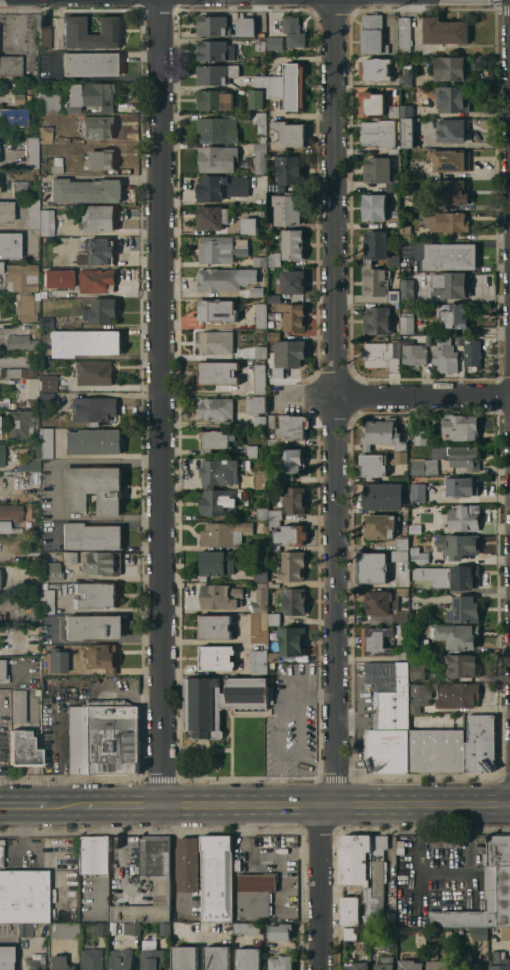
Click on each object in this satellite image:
building: (74, 25)
building: (213, 25)
building: (247, 26)
building: (445, 30)
building: (44, 32)
building: (294, 32)
building: (373, 34)
building: (405, 34)
building: (275, 42)
building: (215, 50)
building: (19, 59)
building: (92, 64)
building: (452, 68)
building: (376, 69)
building: (216, 73)
building: (406, 76)
building: (261, 80)
building: (275, 86)
building: (295, 86)
building: (90, 96)
building: (257, 98)
building: (18, 99)
building: (215, 99)
building: (453, 99)
building: (48, 103)
building: (372, 103)
building: (394, 111)
building: (406, 111)
building: (14, 116)
building: (260, 121)
building: (98, 127)
building: (222, 127)
building: (452, 130)
building: (379, 132)
building: (407, 132)
building: (45, 134)
building: (288, 135)
building: (263, 139)
building: (393, 150)
building: (32, 152)
building: (260, 158)
building: (100, 159)
building: (218, 159)
building: (450, 159)
building: (57, 164)
building: (381, 172)
building: (288, 173)
road: (103, 176)
building: (238, 185)
building: (19, 188)
building: (211, 188)
building: (86, 190)
building: (453, 192)
building: (375, 207)
building: (288, 209)
building: (6, 211)
building: (394, 213)
building: (33, 214)
building: (213, 217)
building: (97, 219)
building: (446, 221)
building: (46, 222)
building: (249, 225)
building: (406, 232)
building: (293, 244)
building: (9, 245)
building: (376, 245)
building: (221, 249)
building: (97, 251)
building: (451, 256)
building: (275, 259)
building: (394, 260)
building: (261, 261)
building: (1, 267)
building: (21, 277)
building: (58, 278)
building: (219, 279)
building: (96, 280)
building: (292, 281)
building: (375, 282)
building: (452, 284)
building: (407, 290)
building: (36, 295)
building: (394, 295)
building: (274, 298)
building: (26, 307)
building: (217, 310)
building: (100, 311)
building: (261, 315)
building: (455, 316)
building: (295, 317)
building: (377, 320)
building: (46, 322)
building: (407, 322)
building: (274, 335)
building: (468, 336)
building: (456, 338)
building: (428, 339)
building: (20, 342)
building: (85, 342)
building: (216, 342)
building: (261, 352)
building: (473, 352)
building: (32, 353)
building: (290, 353)
building: (414, 354)
building: (445, 354)
building: (382, 355)
building: (2, 371)
building: (21, 372)
building: (94, 372)
building: (218, 372)
building: (275, 372)
building: (260, 379)
building: (3, 381)
building: (10, 381)
building: (45, 386)
road: (393, 396)
building: (47, 401)
road: (159, 402)
road: (333, 402)
building: (257, 405)
building: (93, 409)
building: (217, 409)
building: (261, 420)
building: (272, 421)
building: (20, 423)
building: (293, 426)
building: (460, 427)
building: (385, 433)
building: (420, 437)
building: (217, 439)
building: (93, 441)
building: (273, 441)
building: (46, 443)
building: (252, 451)
building: (2, 454)
building: (401, 457)
building: (33, 460)
building: (290, 460)
building: (466, 460)
road: (82, 463)
building: (374, 464)
building: (222, 471)
building: (397, 478)
building: (262, 479)
building: (462, 486)
building: (92, 488)
building: (418, 492)
building: (383, 496)
building: (294, 499)
building: (219, 501)
building: (11, 511)
building: (26, 512)
building: (263, 513)
building: (276, 514)
building: (464, 517)
road: (98, 521)
building: (273, 523)
building: (5, 526)
building: (381, 526)
building: (416, 528)
building: (225, 533)
building: (291, 535)
building: (91, 536)
building: (403, 544)
building: (260, 545)
building: (458, 545)
building: (274, 546)
building: (401, 555)
building: (419, 556)
building: (32, 557)
building: (69, 558)
building: (103, 563)
building: (216, 563)
building: (372, 567)
building: (289, 568)
building: (50, 571)
building: (261, 574)
building: (453, 576)
building: (96, 595)
building: (221, 596)
building: (262, 597)
building: (47, 601)
building: (295, 601)
building: (387, 604)
building: (465, 609)
building: (275, 619)
building: (93, 627)
building: (215, 627)
building: (257, 628)
building: (33, 629)
building: (457, 635)
road: (99, 640)
building: (292, 640)
building: (376, 641)
building: (412, 656)
building: (102, 657)
building: (217, 657)
building: (274, 657)
building: (44, 660)
building: (56, 661)
building: (259, 662)
building: (463, 665)
building: (3, 672)
road: (18, 678)
building: (37, 691)
road: (318, 692)
building: (457, 695)
building: (419, 696)
building: (221, 701)
building: (18, 705)
road: (360, 712)
road: (282, 722)
building: (391, 727)
road: (301, 729)
building: (103, 737)
building: (481, 743)
building: (24, 749)
building: (437, 750)
road: (318, 767)
road: (282, 788)
road: (122, 805)
road: (335, 805)
road: (22, 806)
road: (64, 806)
road: (419, 819)
road: (470, 819)
road: (22, 834)
building: (447, 841)
building: (400, 846)
building: (94, 855)
building: (1, 856)
building: (188, 863)
building: (358, 869)
road: (419, 872)
road: (464, 874)
building: (157, 876)
building: (217, 878)
building: (380, 884)
road: (321, 887)
building: (485, 891)
building: (256, 893)
building: (24, 896)
building: (350, 910)
building: (125, 912)
building: (247, 927)
building: (132, 928)
building: (165, 928)
building: (26, 929)
building: (103, 929)
building: (64, 930)
building: (281, 931)
building: (480, 932)
building: (351, 933)
building: (390, 933)
building: (505, 933)
building: (378, 934)
building: (152, 956)
building: (5, 957)
building: (186, 958)
building: (218, 958)
building: (92, 959)
building: (122, 959)
building: (250, 959)
building: (500, 961)
building: (34, 962)
building: (281, 962)
building: (469, 962)
building: (58, 963)
building: (386, 963)
building: (438, 963)
building: (359, 965)
building: (411, 965)

